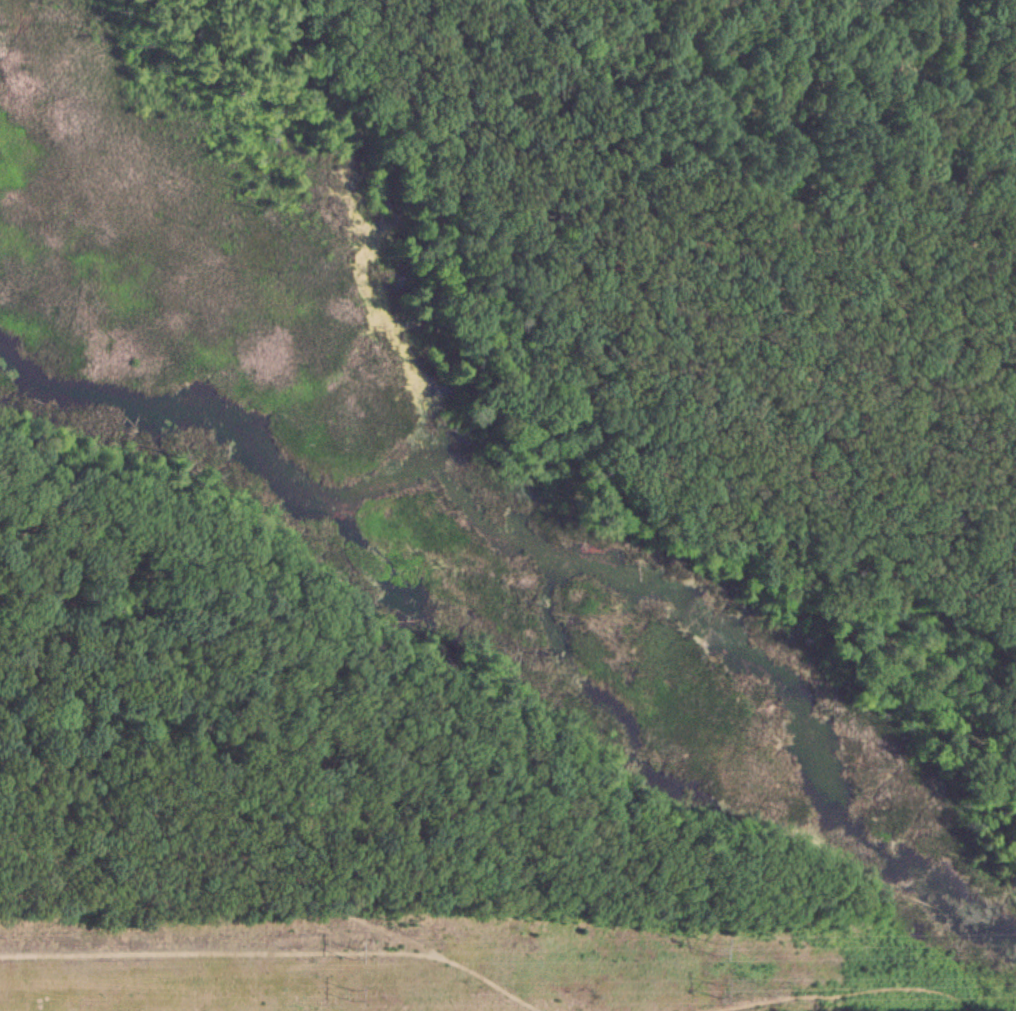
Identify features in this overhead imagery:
power tower: (714, 944)
power tower: (350, 948)
power tower: (714, 988)
power tower: (350, 992)

